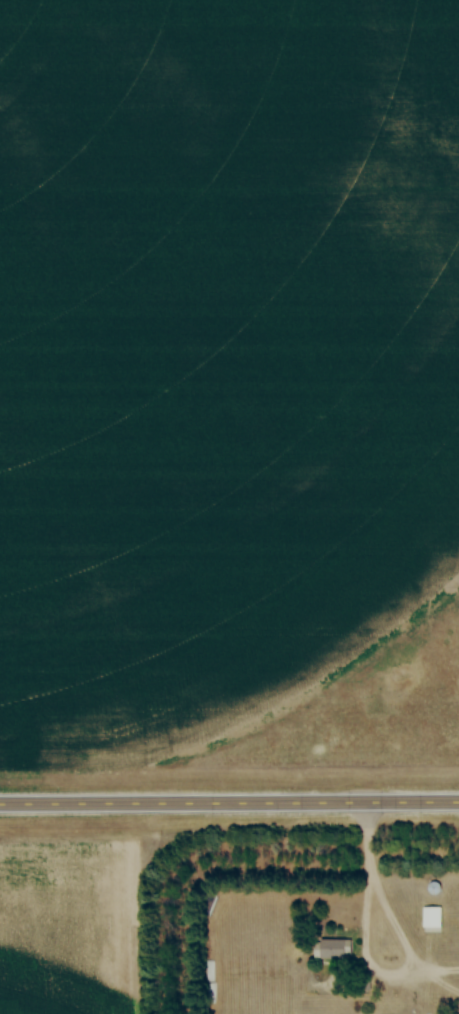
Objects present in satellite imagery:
road: (229, 805)
road: (366, 878)
building: (433, 920)
building: (336, 949)

